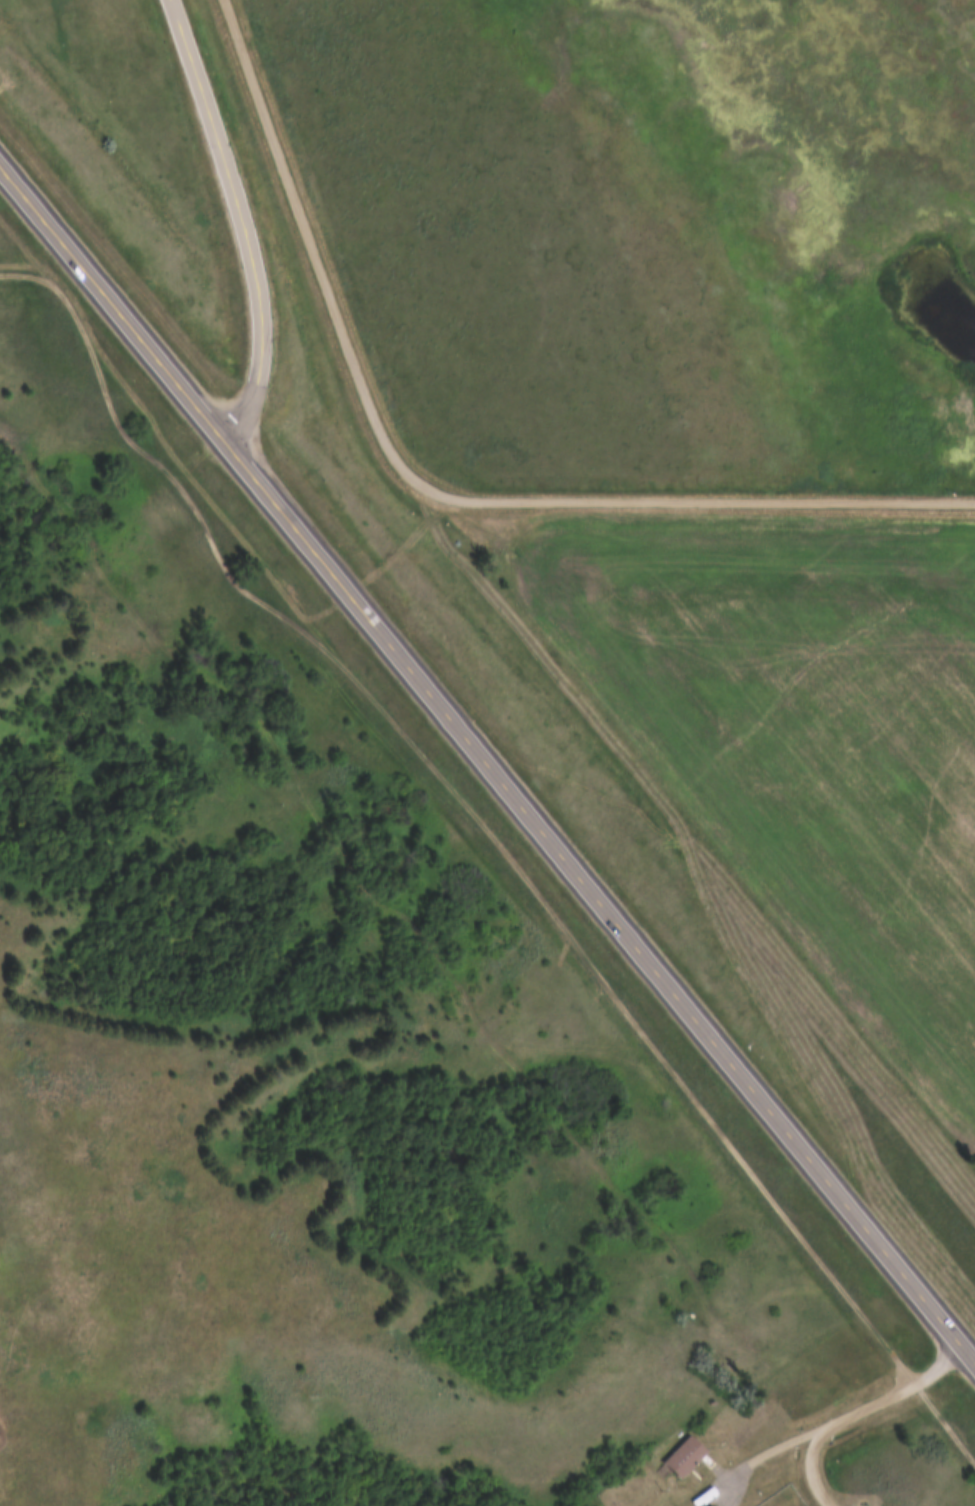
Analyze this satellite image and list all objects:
road: (241, 219)
road: (435, 491)
road: (488, 760)
road: (526, 880)
building: (773, 1117)
road: (856, 1414)
building: (690, 1457)
road: (815, 1465)
road: (726, 1483)

